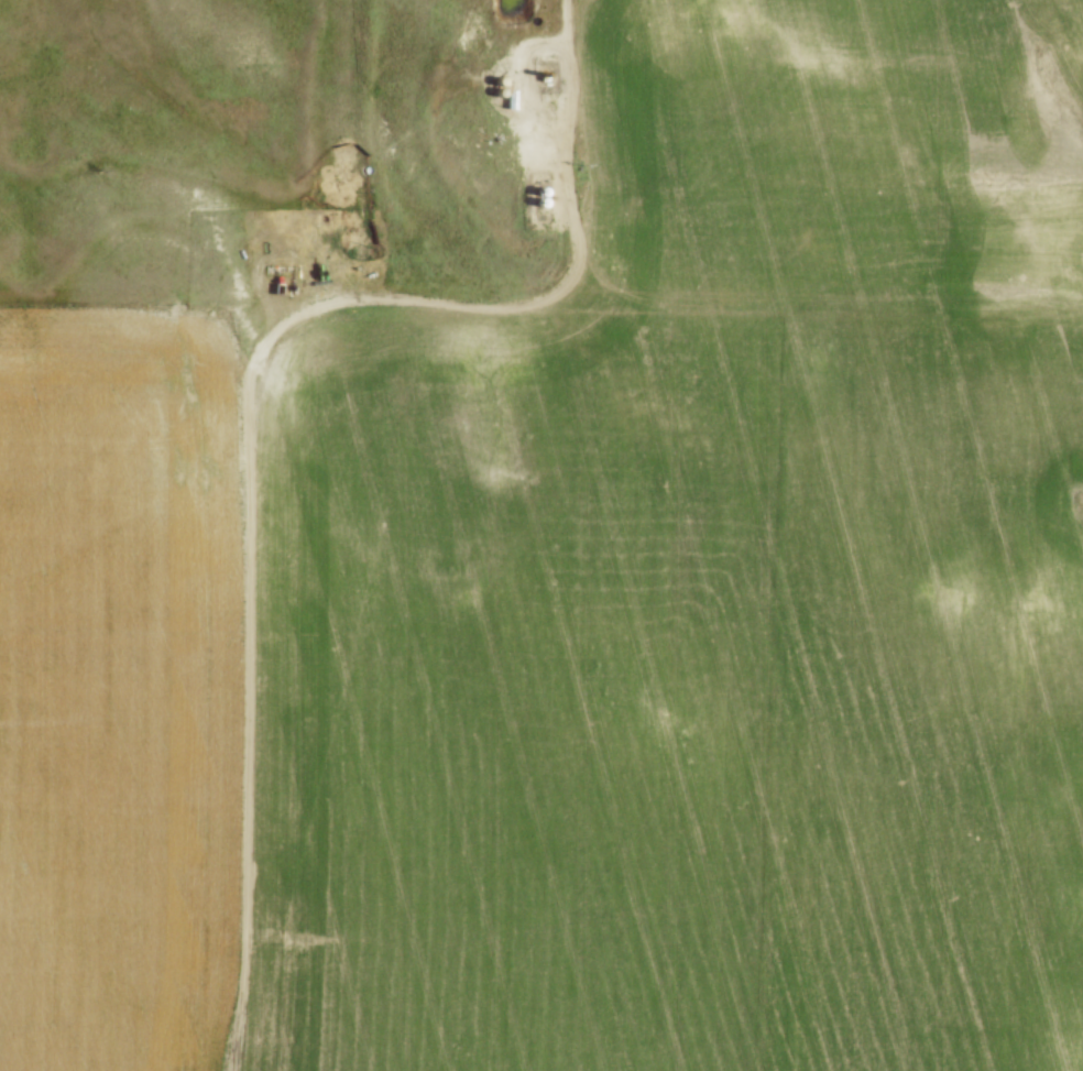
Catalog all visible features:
building: (504, 96)
road: (255, 431)
crop: (703, 583)
crop: (117, 686)

